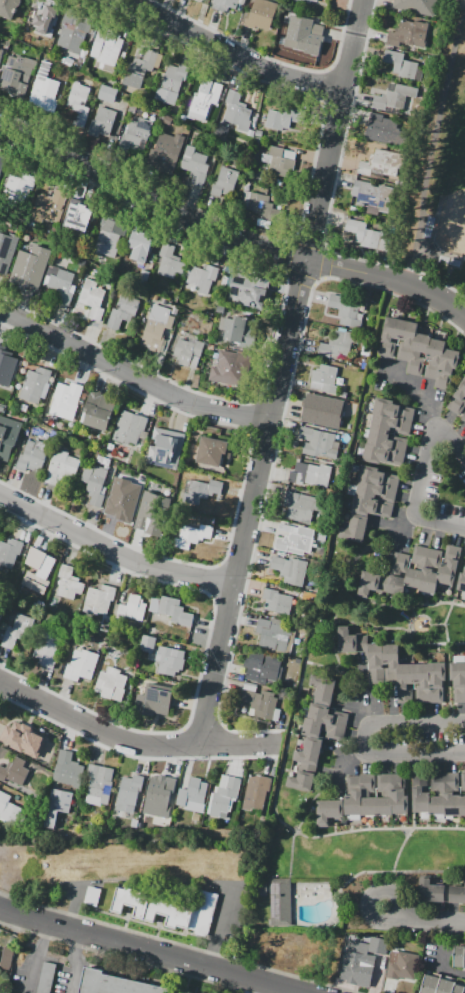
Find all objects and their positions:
building: (307, 0)
building: (226, 4)
building: (418, 6)
building: (36, 7)
building: (9, 8)
building: (319, 10)
building: (261, 14)
building: (45, 25)
building: (73, 33)
building: (303, 33)
building: (408, 34)
building: (106, 46)
road: (230, 54)
building: (1, 55)
road: (271, 58)
building: (401, 64)
building: (139, 69)
building: (17, 74)
building: (378, 83)
building: (171, 84)
road: (322, 84)
building: (44, 91)
building: (107, 93)
building: (205, 96)
building: (394, 97)
building: (79, 102)
building: (239, 111)
building: (284, 118)
building: (102, 123)
building: (382, 129)
building: (136, 134)
road: (429, 136)
building: (166, 154)
building: (2, 160)
building: (279, 163)
road: (337, 163)
building: (382, 163)
building: (195, 165)
park: (439, 168)
building: (20, 183)
building: (224, 183)
park: (452, 187)
building: (372, 196)
building: (257, 204)
building: (50, 206)
road: (304, 206)
building: (75, 222)
road: (227, 233)
road: (286, 234)
building: (109, 236)
building: (370, 236)
building: (141, 246)
building: (7, 248)
building: (169, 261)
building: (30, 267)
building: (201, 279)
road: (435, 281)
building: (60, 287)
building: (248, 291)
building: (92, 299)
building: (123, 311)
building: (345, 311)
road: (277, 319)
building: (157, 327)
building: (235, 328)
building: (390, 336)
building: (406, 340)
building: (338, 345)
building: (188, 350)
building: (418, 354)
building: (434, 357)
building: (232, 368)
building: (447, 368)
building: (5, 369)
road: (281, 373)
road: (132, 374)
building: (326, 378)
building: (35, 384)
road: (415, 392)
building: (458, 399)
building: (67, 401)
building: (99, 409)
building: (323, 410)
building: (393, 410)
road: (252, 414)
building: (463, 416)
building: (391, 424)
building: (129, 427)
building: (8, 436)
building: (387, 440)
building: (317, 442)
building: (167, 448)
building: (213, 451)
road: (272, 453)
building: (382, 455)
building: (32, 456)
building: (61, 468)
building: (310, 474)
road: (421, 475)
building: (378, 476)
road: (242, 481)
building: (94, 482)
building: (376, 491)
building: (203, 492)
building: (121, 502)
building: (301, 506)
building: (371, 506)
building: (157, 511)
building: (355, 528)
road: (394, 529)
building: (192, 536)
building: (322, 537)
building: (297, 541)
road: (112, 549)
building: (9, 552)
building: (450, 565)
building: (416, 566)
building: (290, 569)
building: (431, 571)
building: (398, 574)
building: (37, 575)
road: (214, 580)
building: (69, 581)
building: (461, 581)
building: (372, 583)
road: (454, 593)
building: (99, 598)
building: (277, 601)
road: (401, 607)
building: (133, 608)
building: (171, 609)
road: (335, 612)
road: (414, 613)
building: (1, 614)
road: (430, 624)
road: (402, 629)
road: (409, 629)
building: (16, 630)
road: (446, 633)
building: (273, 634)
road: (413, 636)
building: (351, 640)
building: (148, 643)
building: (47, 647)
road: (204, 647)
building: (170, 660)
building: (376, 662)
building: (391, 662)
building: (82, 666)
road: (325, 666)
building: (262, 667)
building: (458, 680)
building: (436, 681)
building: (405, 682)
building: (112, 683)
building: (421, 683)
road: (448, 683)
building: (323, 689)
road: (362, 690)
building: (156, 699)
building: (260, 702)
building: (327, 714)
road: (204, 727)
road: (97, 729)
building: (323, 729)
building: (23, 737)
road: (366, 738)
road: (239, 745)
building: (309, 751)
road: (131, 755)
road: (283, 759)
building: (68, 769)
road: (346, 769)
building: (14, 771)
building: (303, 778)
building: (463, 782)
building: (99, 784)
building: (129, 792)
building: (256, 792)
building: (420, 793)
building: (437, 793)
building: (399, 794)
building: (451, 795)
building: (160, 796)
building: (193, 796)
building: (224, 796)
building: (384, 796)
building: (367, 797)
building: (353, 798)
building: (462, 805)
building: (57, 806)
building: (9, 809)
building: (329, 811)
road: (411, 814)
road: (302, 821)
road: (395, 871)
building: (432, 891)
building: (456, 893)
building: (92, 895)
parking lot: (92, 895)
road: (371, 895)
building: (280, 902)
road: (74, 906)
building: (169, 909)
road: (432, 921)
road: (217, 927)
road: (178, 943)
road: (151, 951)
building: (459, 956)
building: (7, 957)
road: (37, 957)
road: (123, 958)
road: (75, 961)
building: (362, 961)
road: (443, 962)
building: (402, 965)
road: (454, 974)
parking lot: (41, 975)
building: (47, 978)
parking lot: (47, 978)
building: (114, 984)
building: (437, 985)
road: (441, 985)
building: (459, 989)
building: (464, 991)

